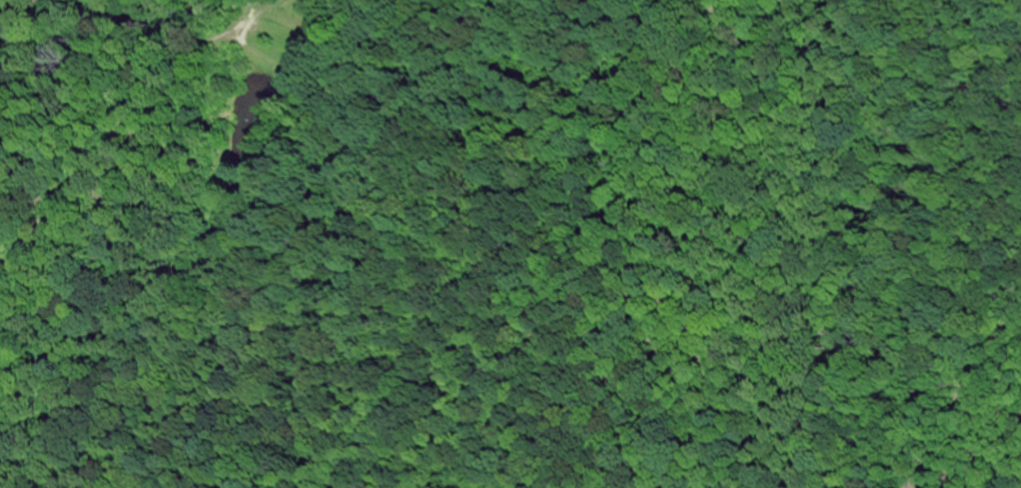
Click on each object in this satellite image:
road: (124, 127)

